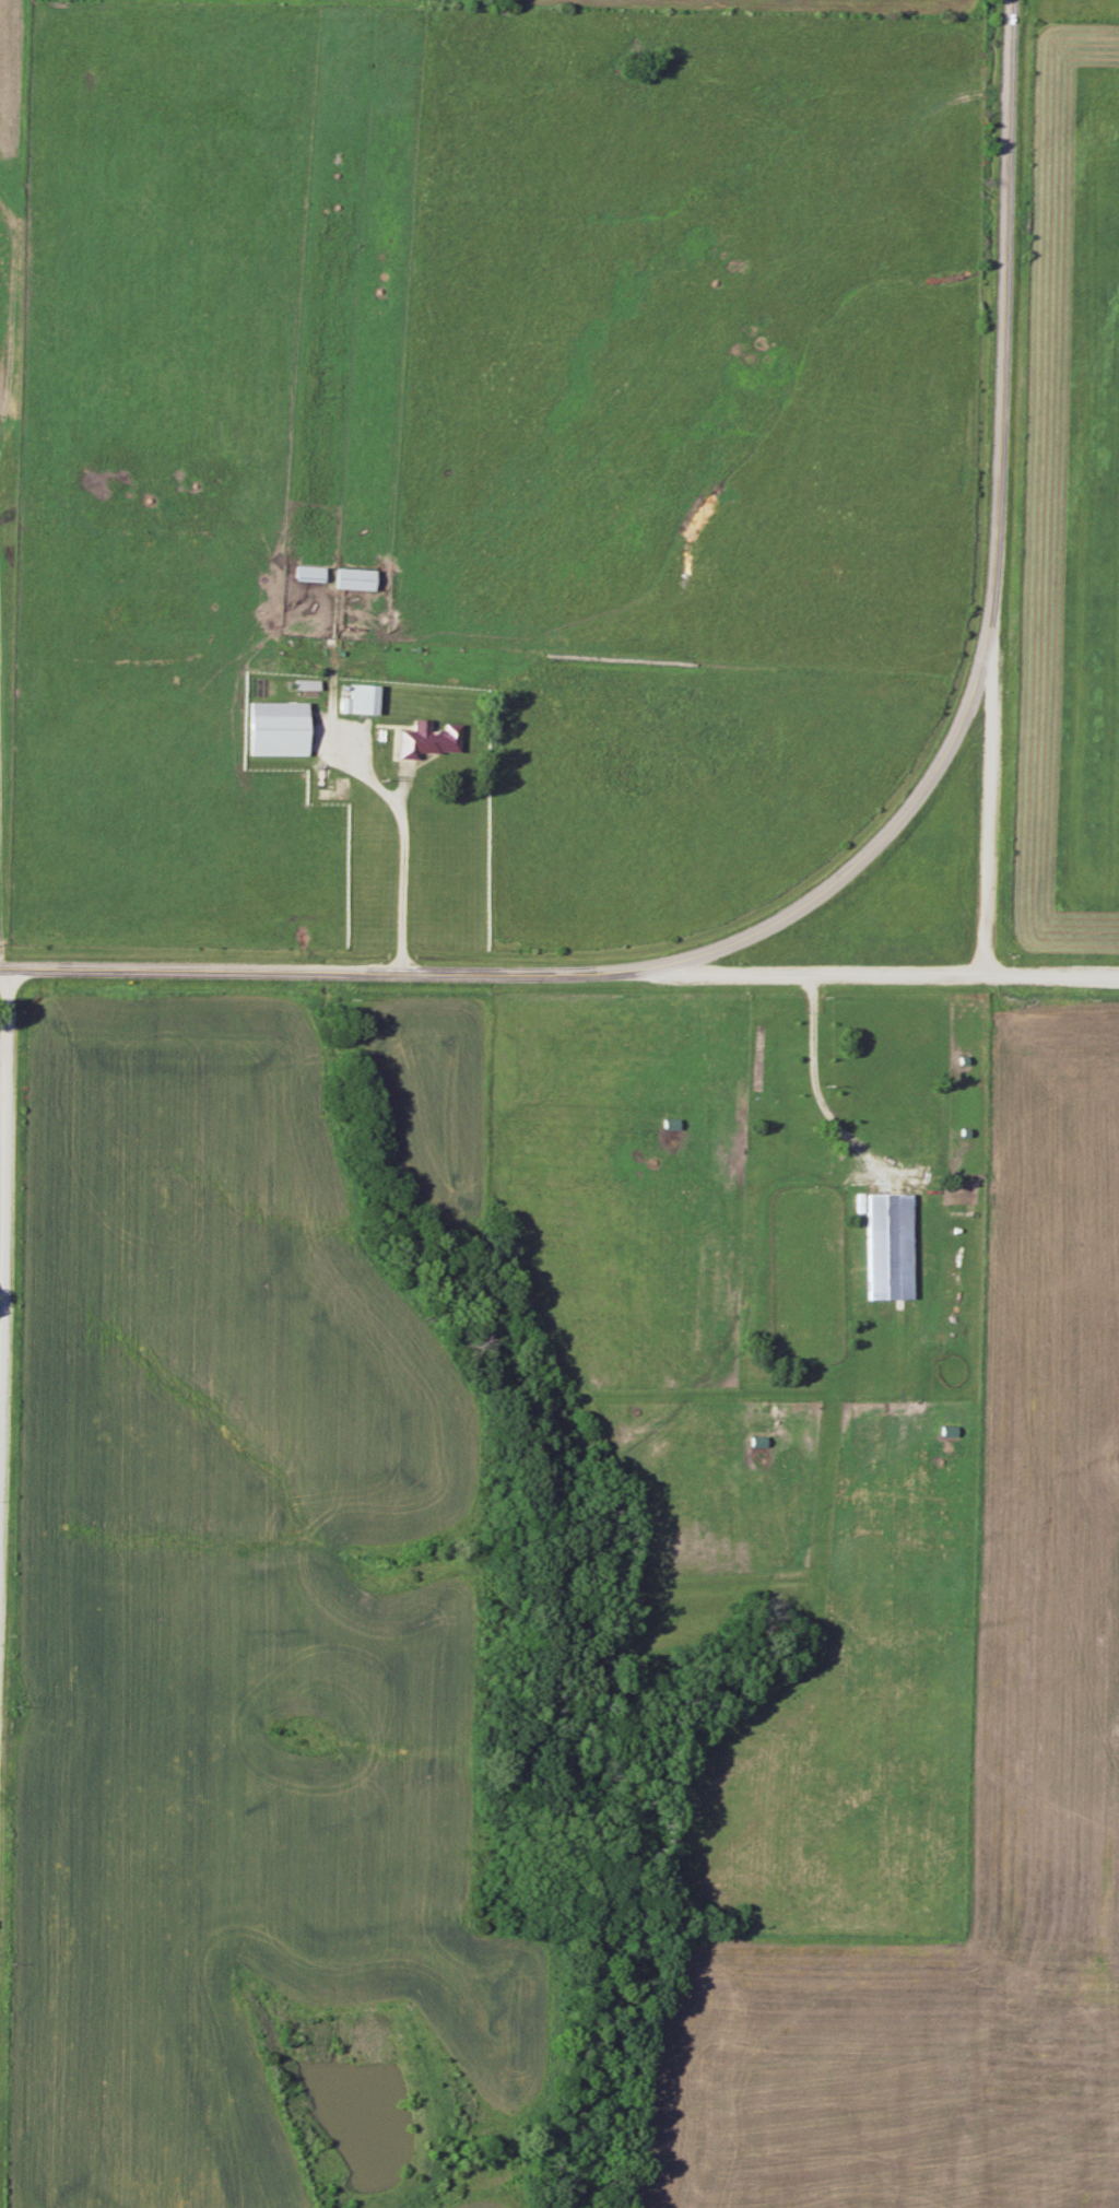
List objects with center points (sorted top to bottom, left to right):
road: (15, 274)
road: (994, 569)
building: (309, 574)
building: (354, 579)
building: (363, 698)
building: (278, 728)
building: (427, 740)
road: (990, 797)
road: (405, 867)
road: (1, 892)
road: (326, 975)
road: (818, 977)
road: (1052, 979)
road: (812, 1061)
building: (758, 1067)
building: (778, 1121)
building: (904, 1143)
building: (887, 1247)
road: (5, 1265)

